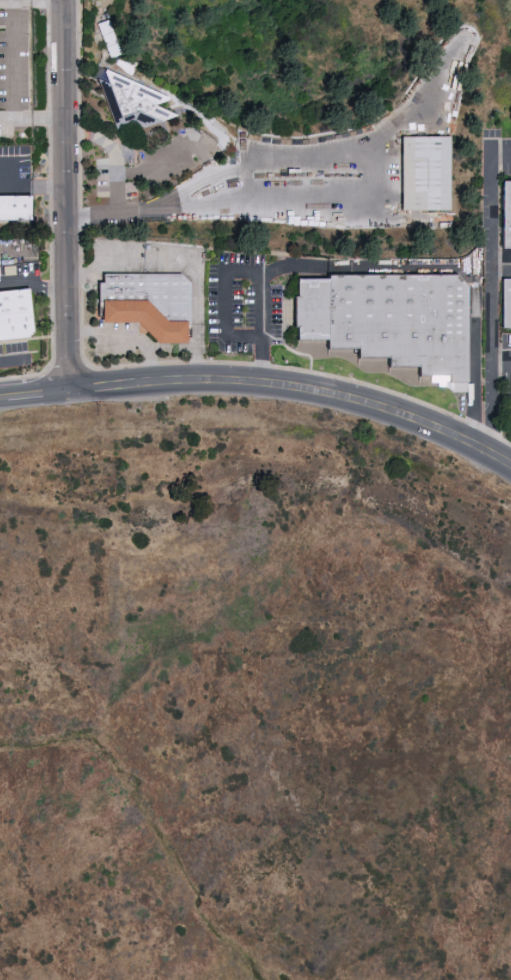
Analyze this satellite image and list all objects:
road: (33, 1)
road: (15, 60)
building: (128, 100)
road: (34, 119)
road: (510, 149)
road: (114, 158)
road: (162, 164)
road: (314, 166)
building: (427, 170)
road: (35, 183)
road: (70, 195)
building: (15, 204)
road: (273, 209)
building: (507, 212)
road: (103, 216)
road: (185, 261)
road: (502, 264)
road: (336, 265)
road: (247, 273)
road: (35, 283)
road: (493, 292)
building: (505, 301)
building: (149, 302)
building: (15, 312)
building: (391, 317)
road: (472, 324)
road: (128, 337)
road: (502, 350)
road: (14, 362)
road: (504, 384)
building: (508, 386)
road: (296, 387)
road: (34, 393)

